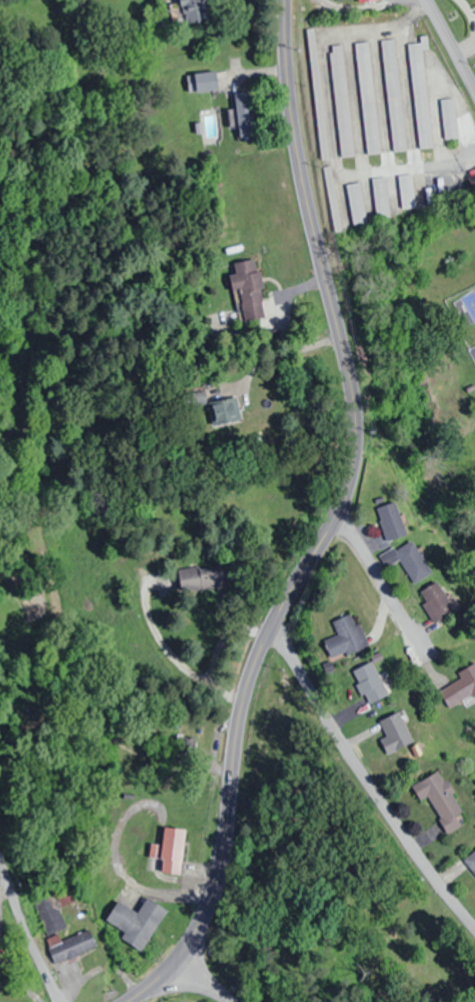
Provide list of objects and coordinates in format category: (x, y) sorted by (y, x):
building: (341, 0)
building: (193, 11)
road: (449, 48)
building: (202, 82)
building: (420, 92)
building: (316, 93)
building: (393, 95)
building: (367, 98)
building: (341, 100)
building: (243, 112)
building: (449, 118)
building: (406, 191)
building: (380, 197)
building: (331, 198)
building: (355, 202)
building: (248, 287)
building: (224, 410)
building: (391, 520)
road: (327, 523)
building: (411, 558)
building: (201, 577)
road: (378, 581)
building: (436, 601)
building: (346, 636)
building: (370, 682)
building: (460, 687)
building: (395, 732)
road: (365, 782)
building: (440, 801)
building: (170, 849)
building: (471, 862)
building: (137, 922)
road: (26, 936)
building: (65, 962)
road: (201, 978)

